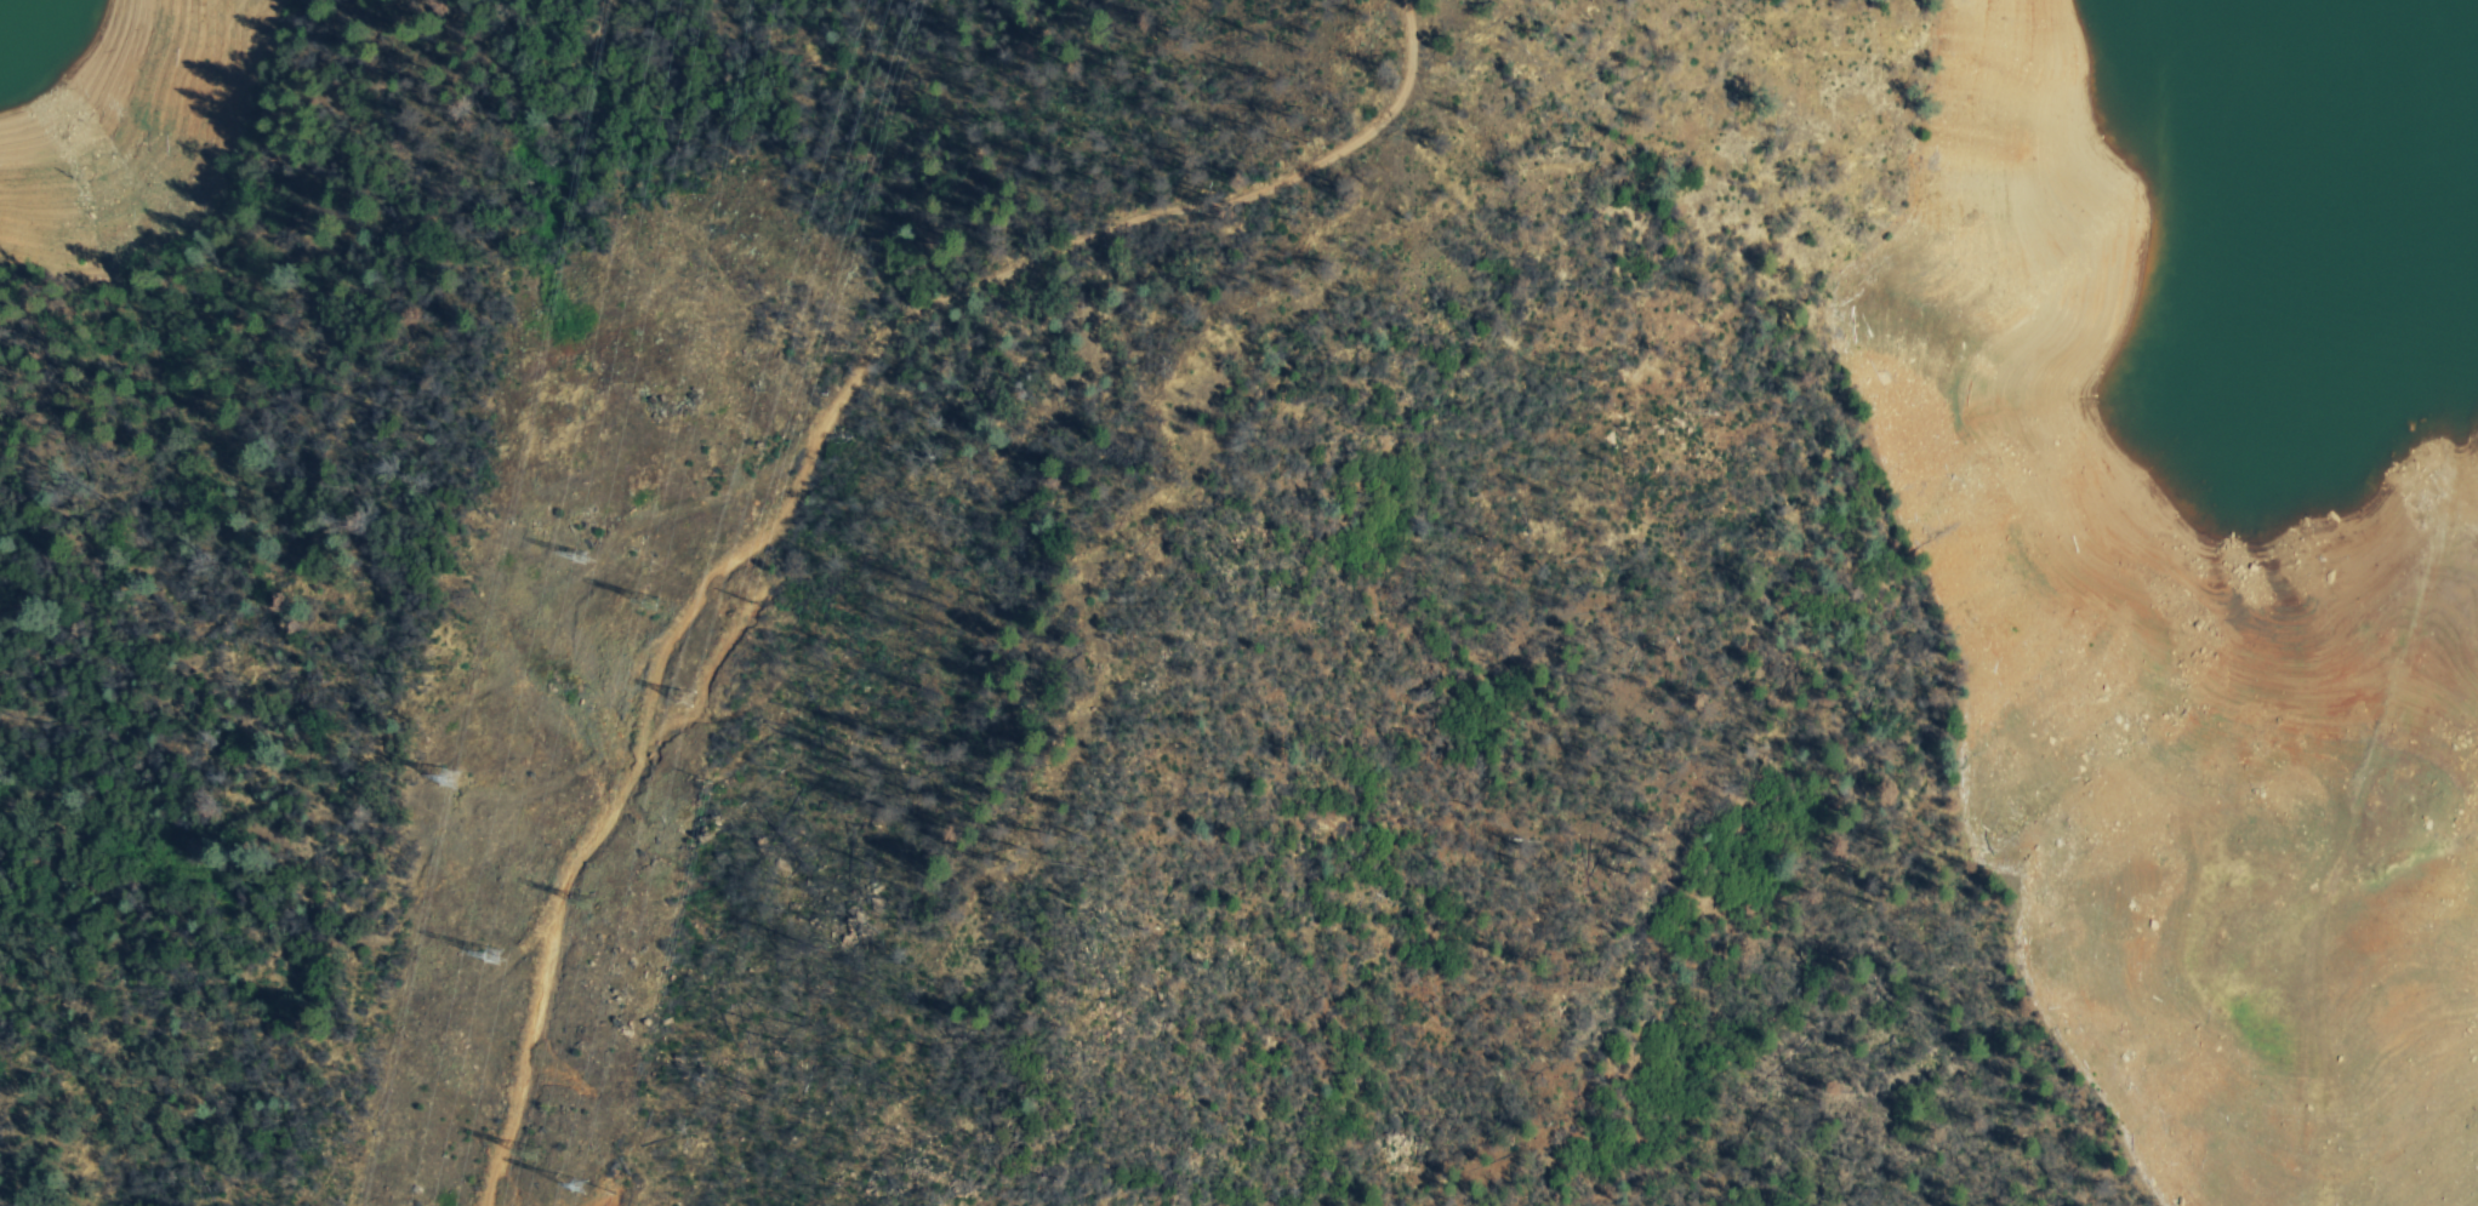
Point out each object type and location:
power tower: (604, 550)
power tower: (670, 601)
power tower: (700, 699)
power tower: (445, 782)
power tower: (608, 887)
power tower: (515, 949)
power tower: (545, 1151)
power tower: (592, 1191)

